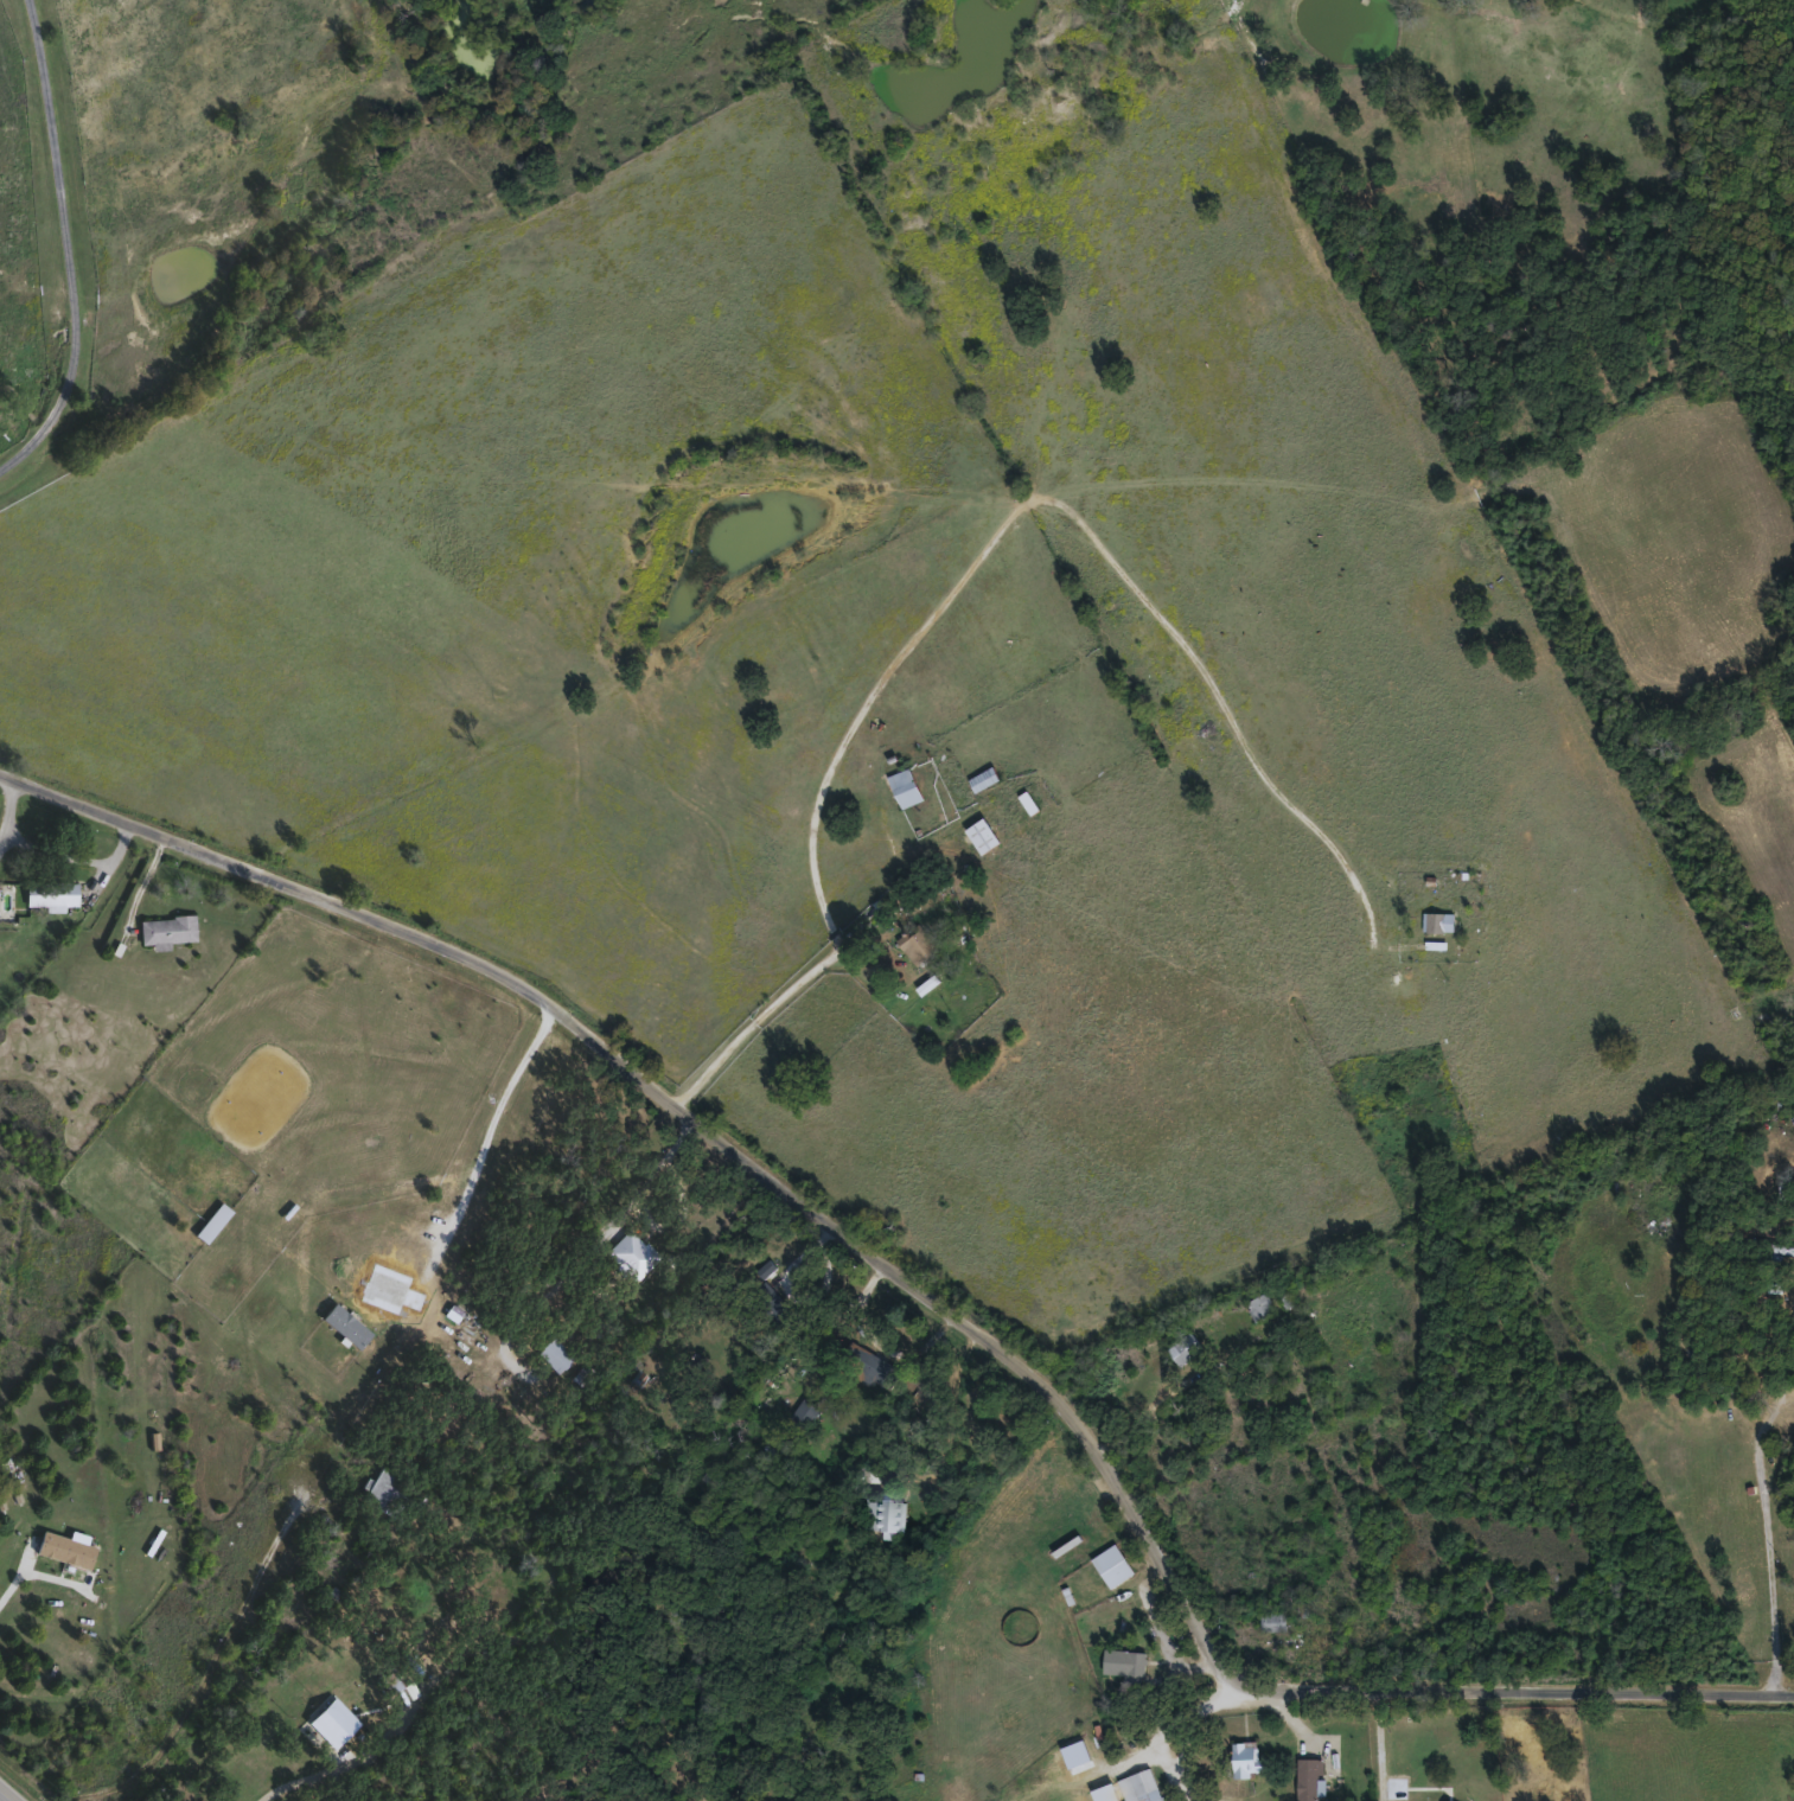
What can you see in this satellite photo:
road: (68, 248)
road: (976, 564)
building: (988, 775)
building: (905, 786)
road: (6, 836)
building: (983, 836)
road: (53, 850)
building: (49, 894)
building: (875, 909)
building: (1438, 920)
building: (166, 928)
building: (917, 945)
road: (1792, 996)
road: (487, 1133)
road: (589, 1246)
building: (1769, 1248)
building: (631, 1253)
road: (922, 1288)
building: (1259, 1305)
building: (786, 1318)
building: (1185, 1348)
building: (553, 1355)
building: (879, 1368)
road: (1166, 1393)
road: (1541, 1481)
building: (385, 1492)
road: (1762, 1502)
building: (883, 1515)
building: (64, 1547)
road: (1558, 1550)
building: (1112, 1564)
road: (13, 1586)
building: (1273, 1620)
building: (1124, 1661)
road: (121, 1712)
road: (1190, 1714)
building: (343, 1717)
road: (1380, 1745)
building: (1245, 1757)
road: (318, 1773)
building: (1308, 1778)
building: (1119, 1788)
building: (1150, 1795)
road: (1, 1799)

